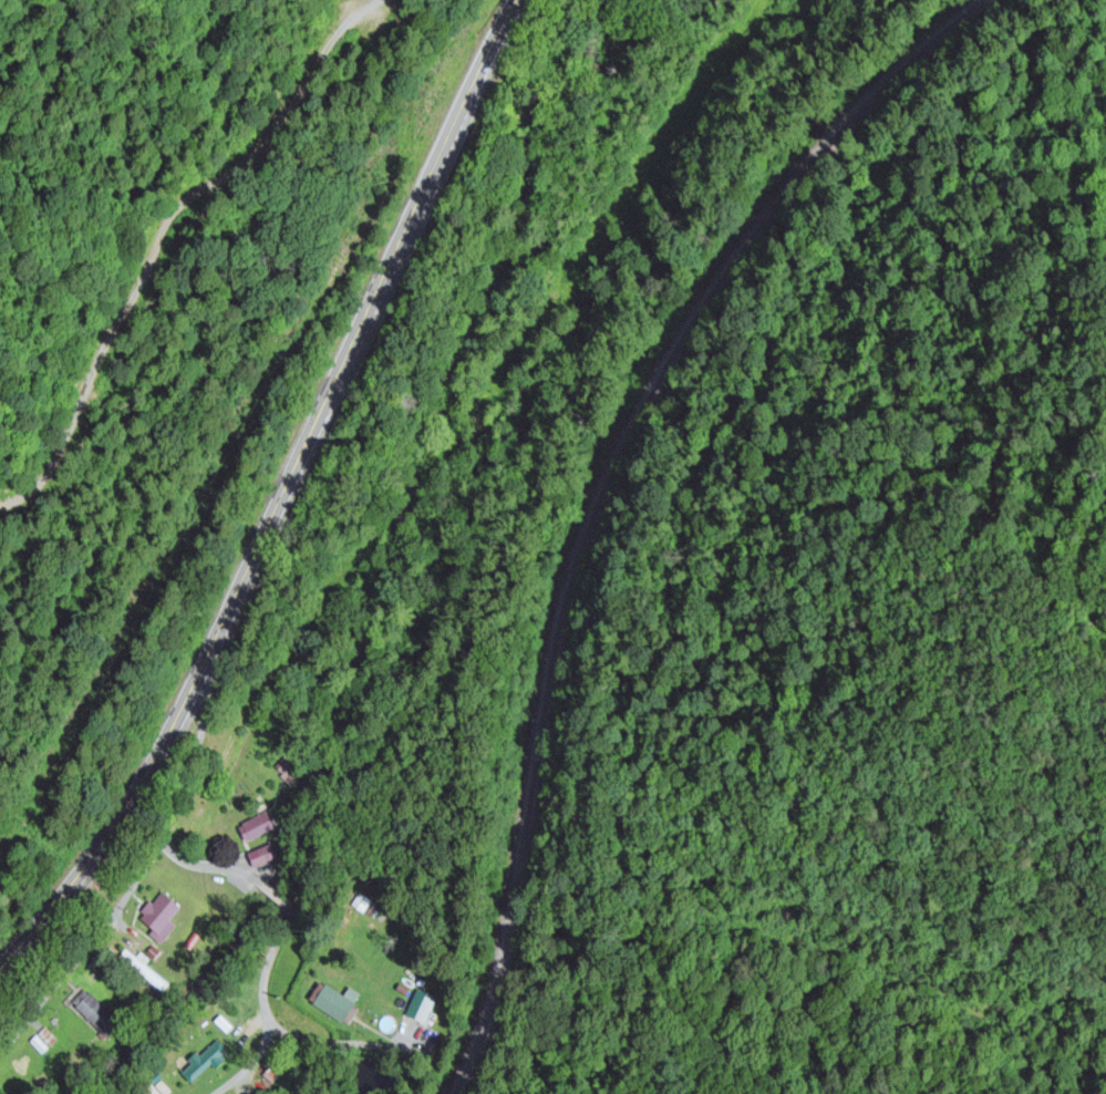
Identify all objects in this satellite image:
road: (157, 236)
railway: (601, 487)
road: (275, 500)
road: (185, 755)
building: (259, 829)
building: (164, 918)
road: (95, 928)
road: (275, 936)
building: (338, 1005)
building: (99, 1015)

